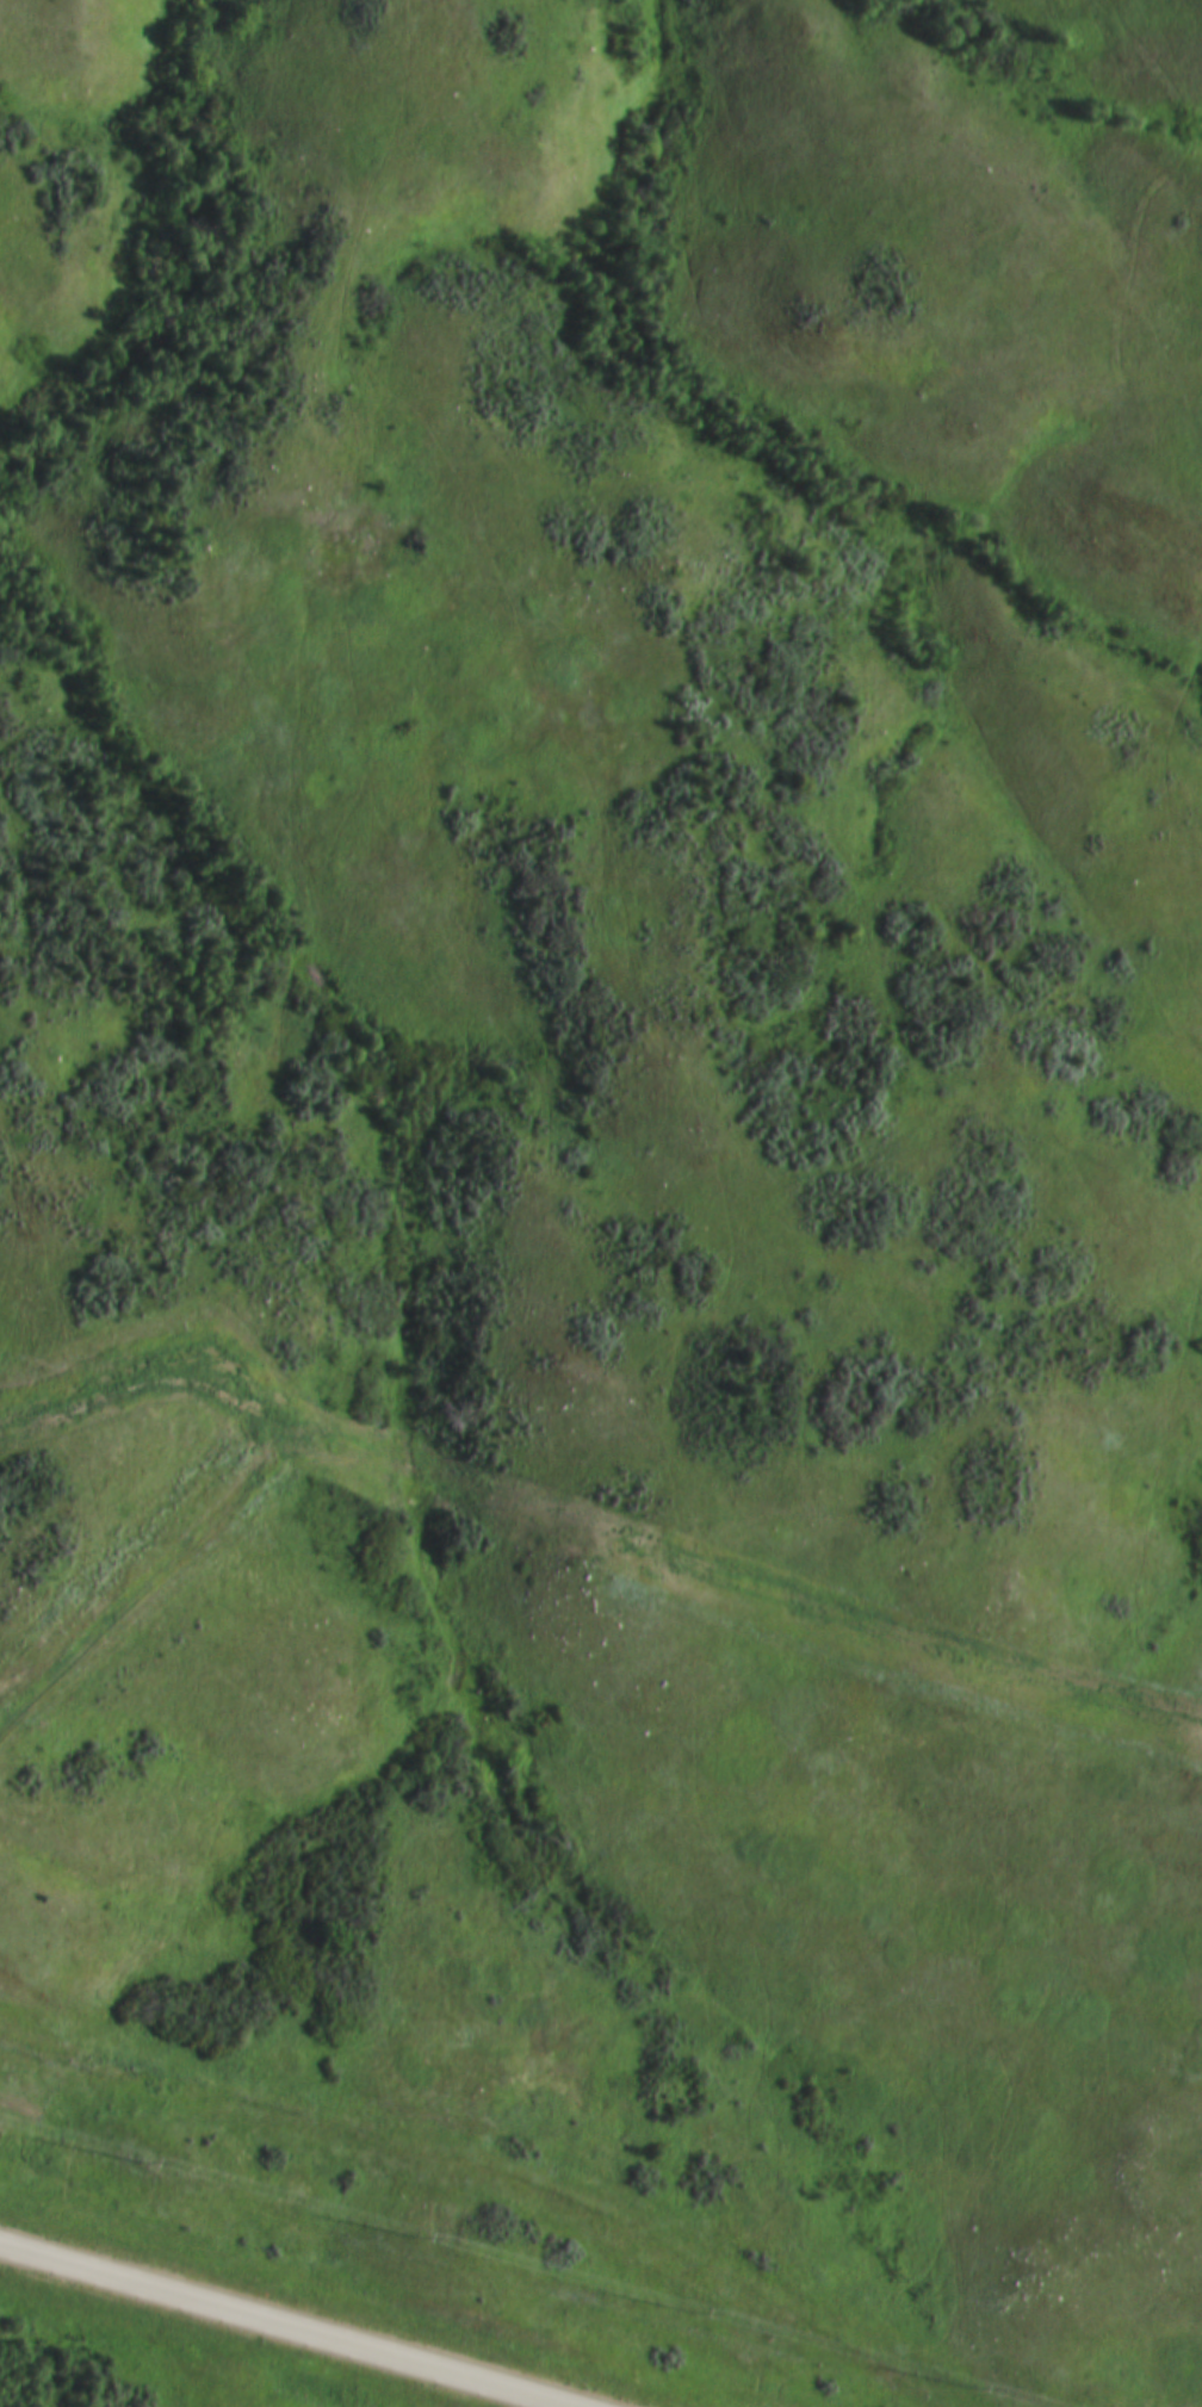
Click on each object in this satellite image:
road: (285, 2322)

